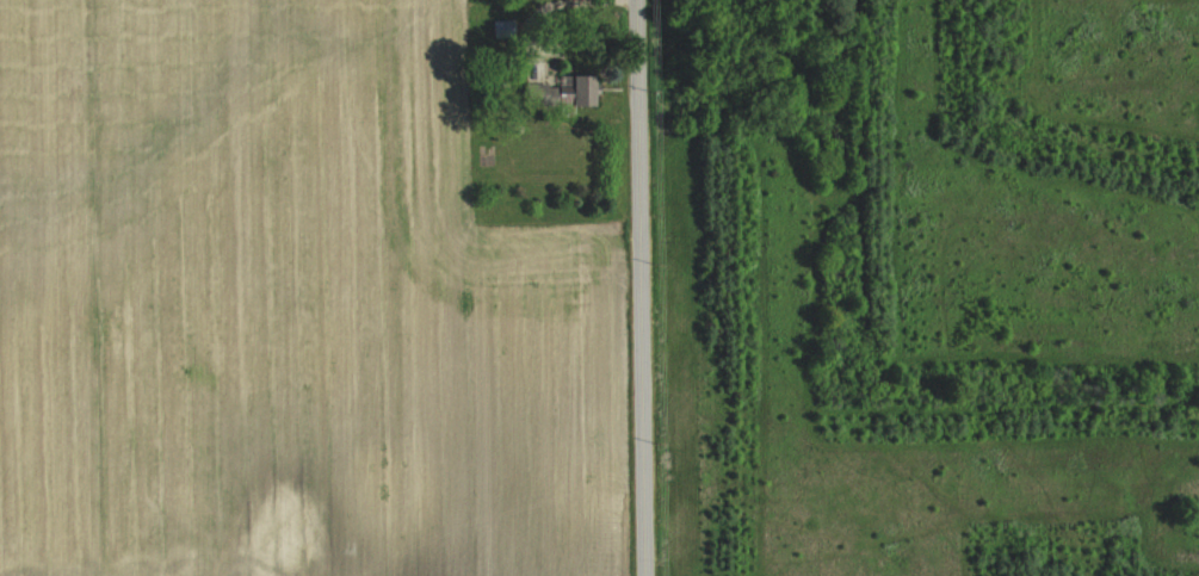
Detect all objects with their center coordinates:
building: (505, 29)
building: (581, 89)
road: (644, 287)

